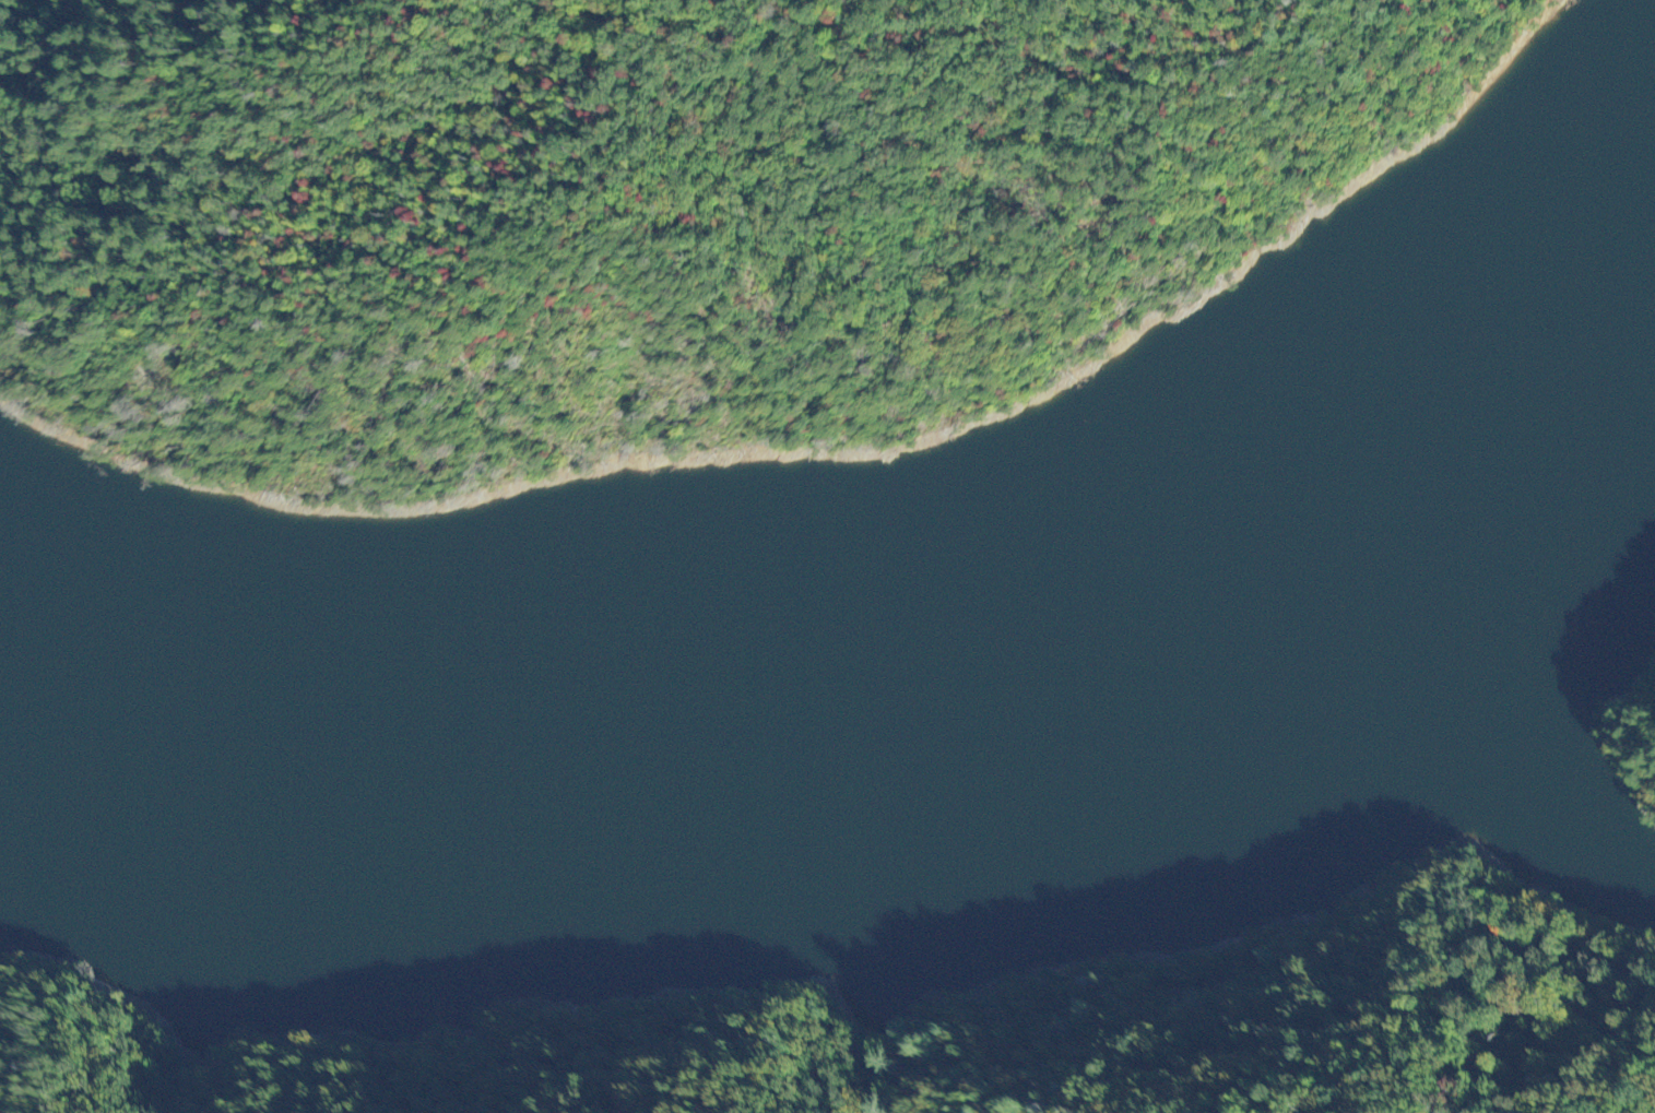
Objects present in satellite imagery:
river: (1532, 383)
river: (705, 688)

